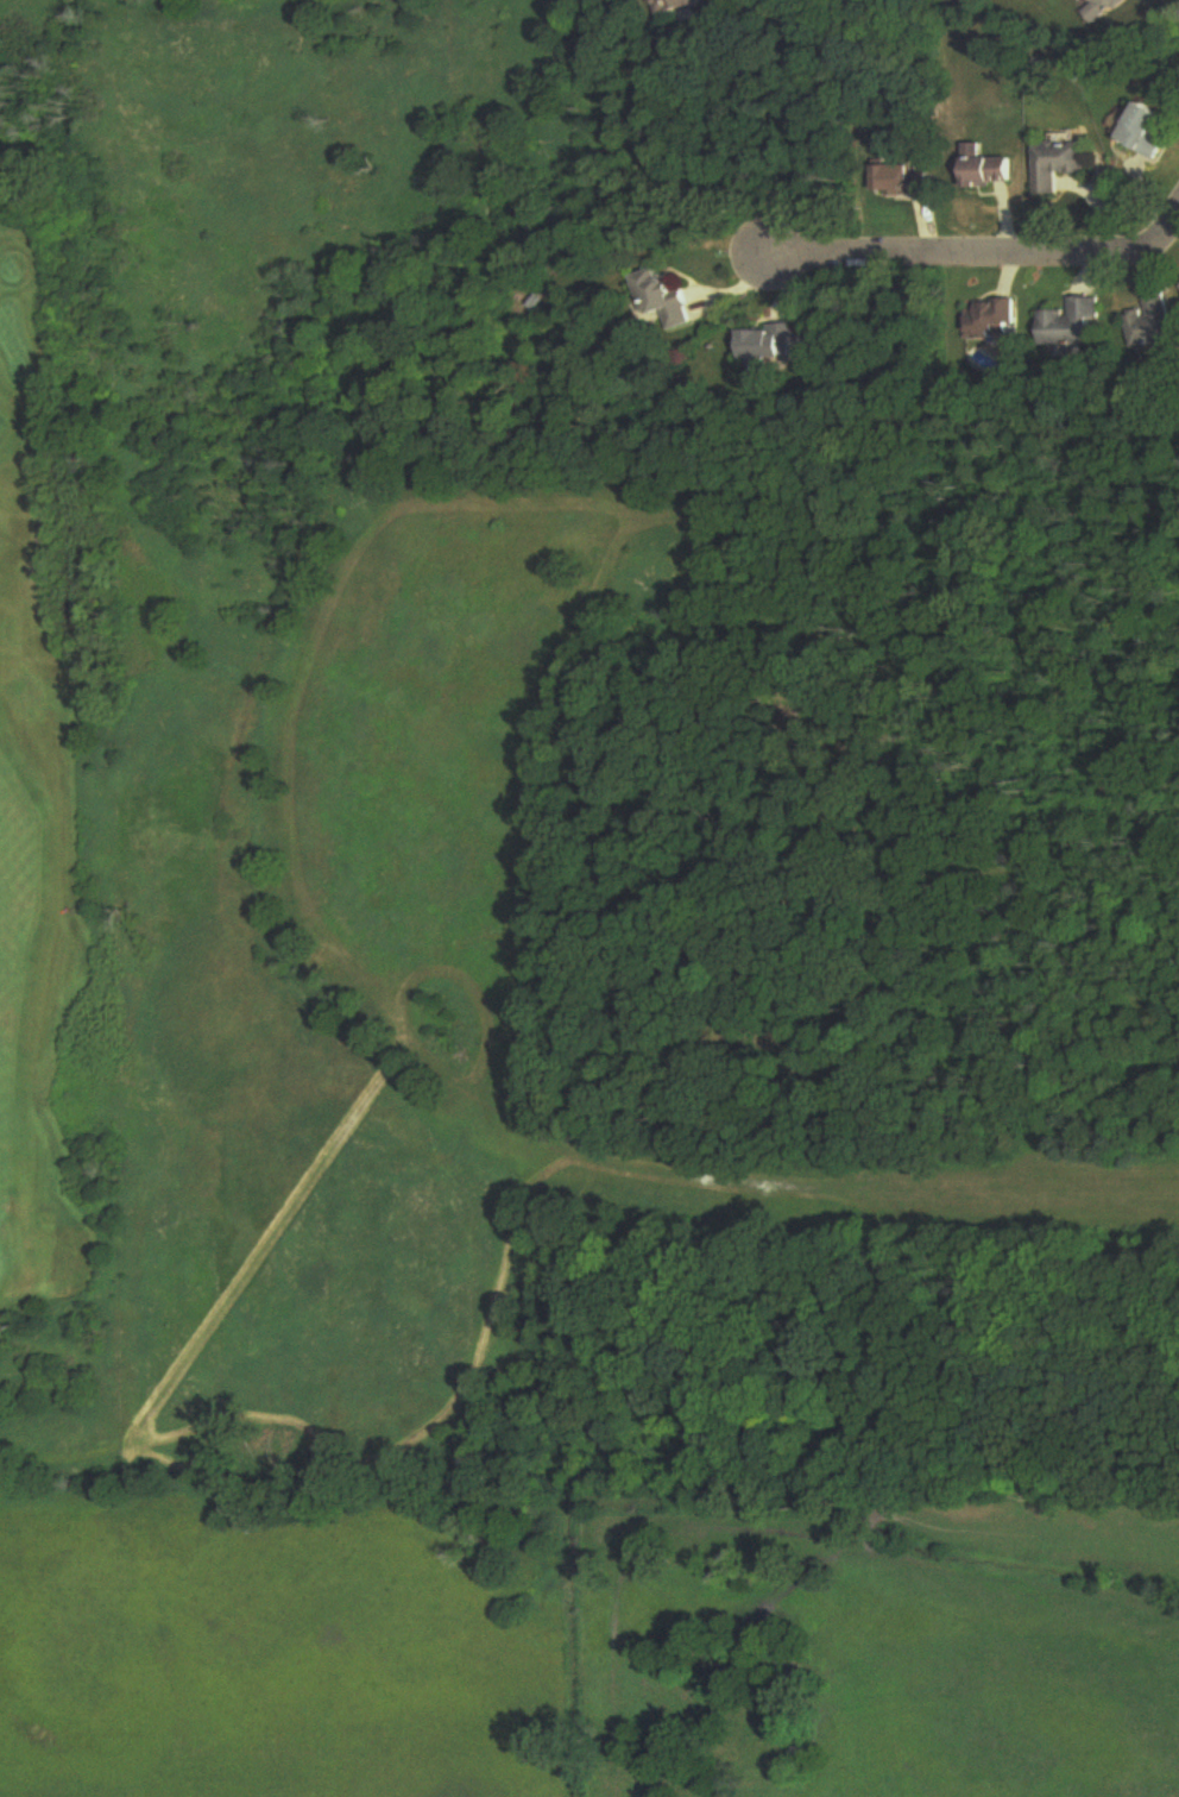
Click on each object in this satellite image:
building: (685, 5)
building: (1103, 10)
building: (1147, 132)
building: (1060, 165)
building: (992, 172)
building: (899, 181)
road: (957, 252)
building: (667, 299)
building: (992, 320)
building: (1154, 321)
building: (1073, 323)
building: (773, 345)
park: (33, 727)

